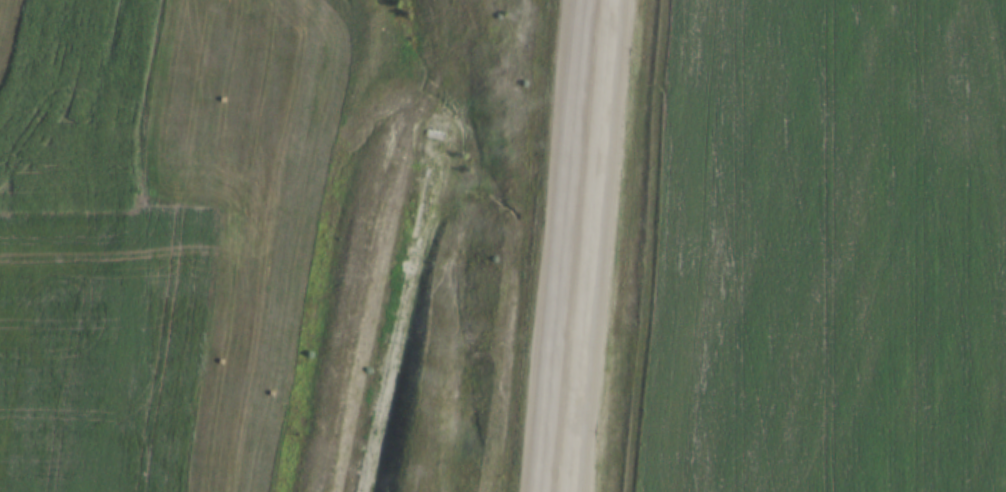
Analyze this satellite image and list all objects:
road: (575, 245)

